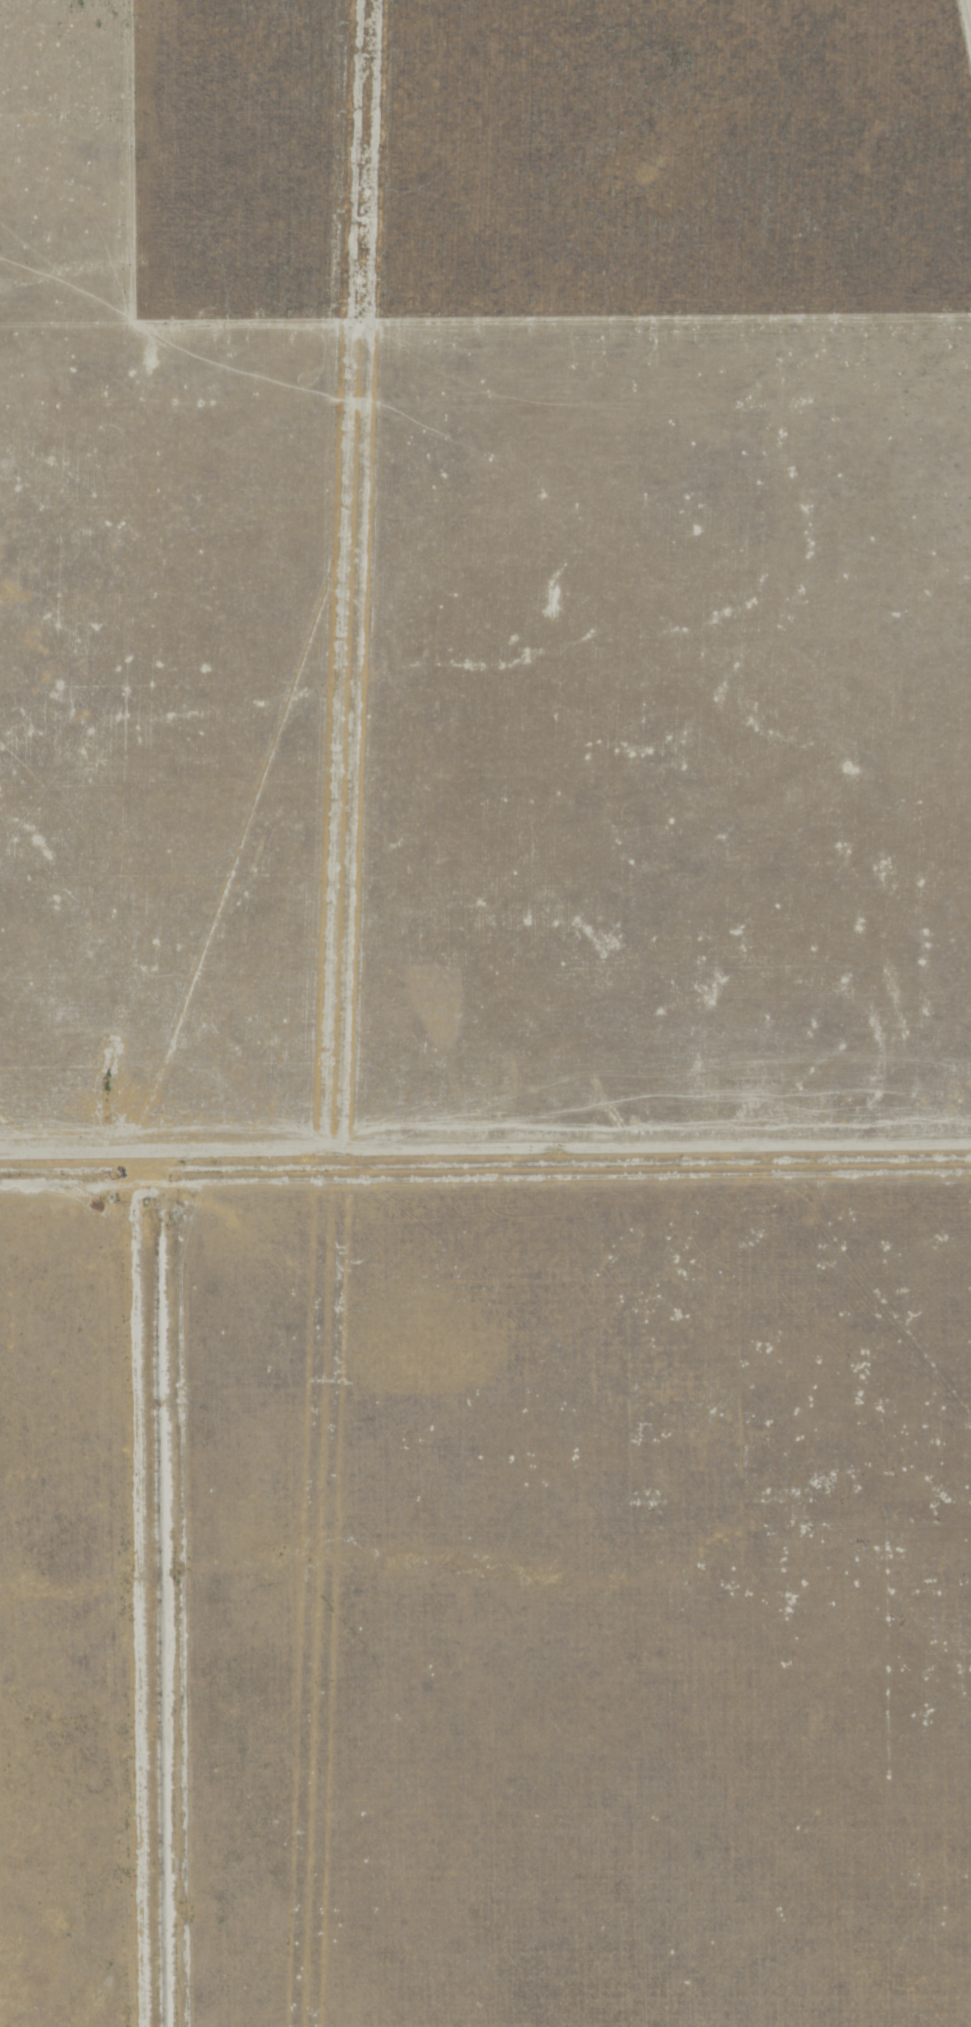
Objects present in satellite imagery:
crop: (485, 1598)

